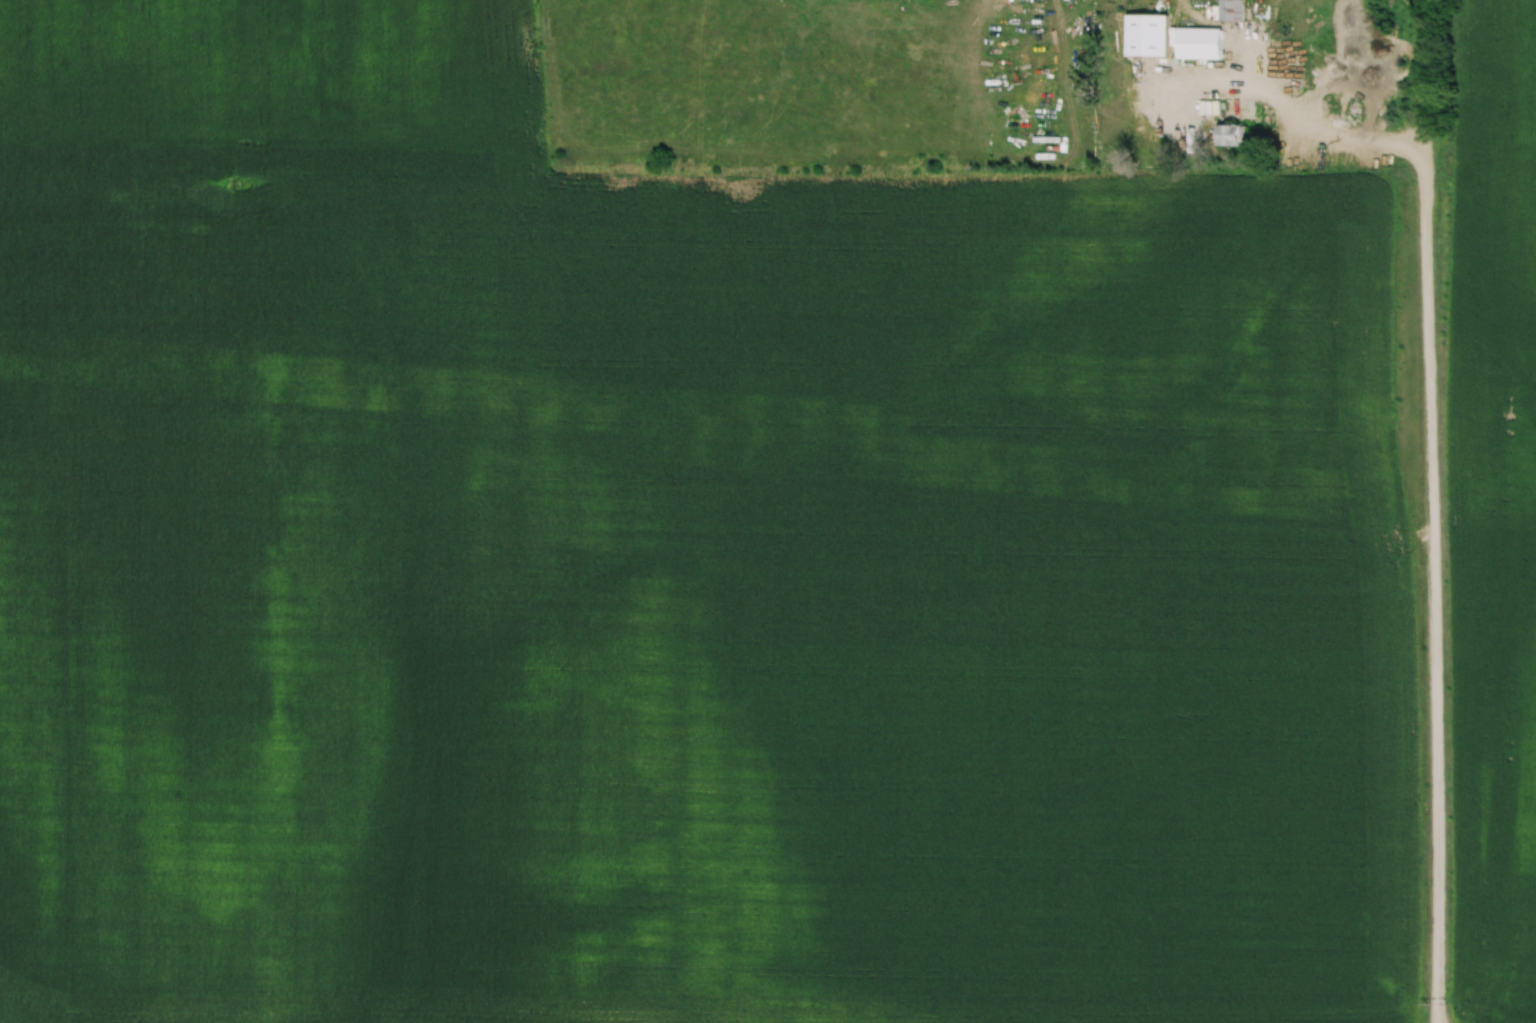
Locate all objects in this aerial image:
building: (1231, 9)
building: (1145, 35)
building: (1197, 43)
road: (1420, 85)
building: (1231, 135)
road: (1428, 453)

